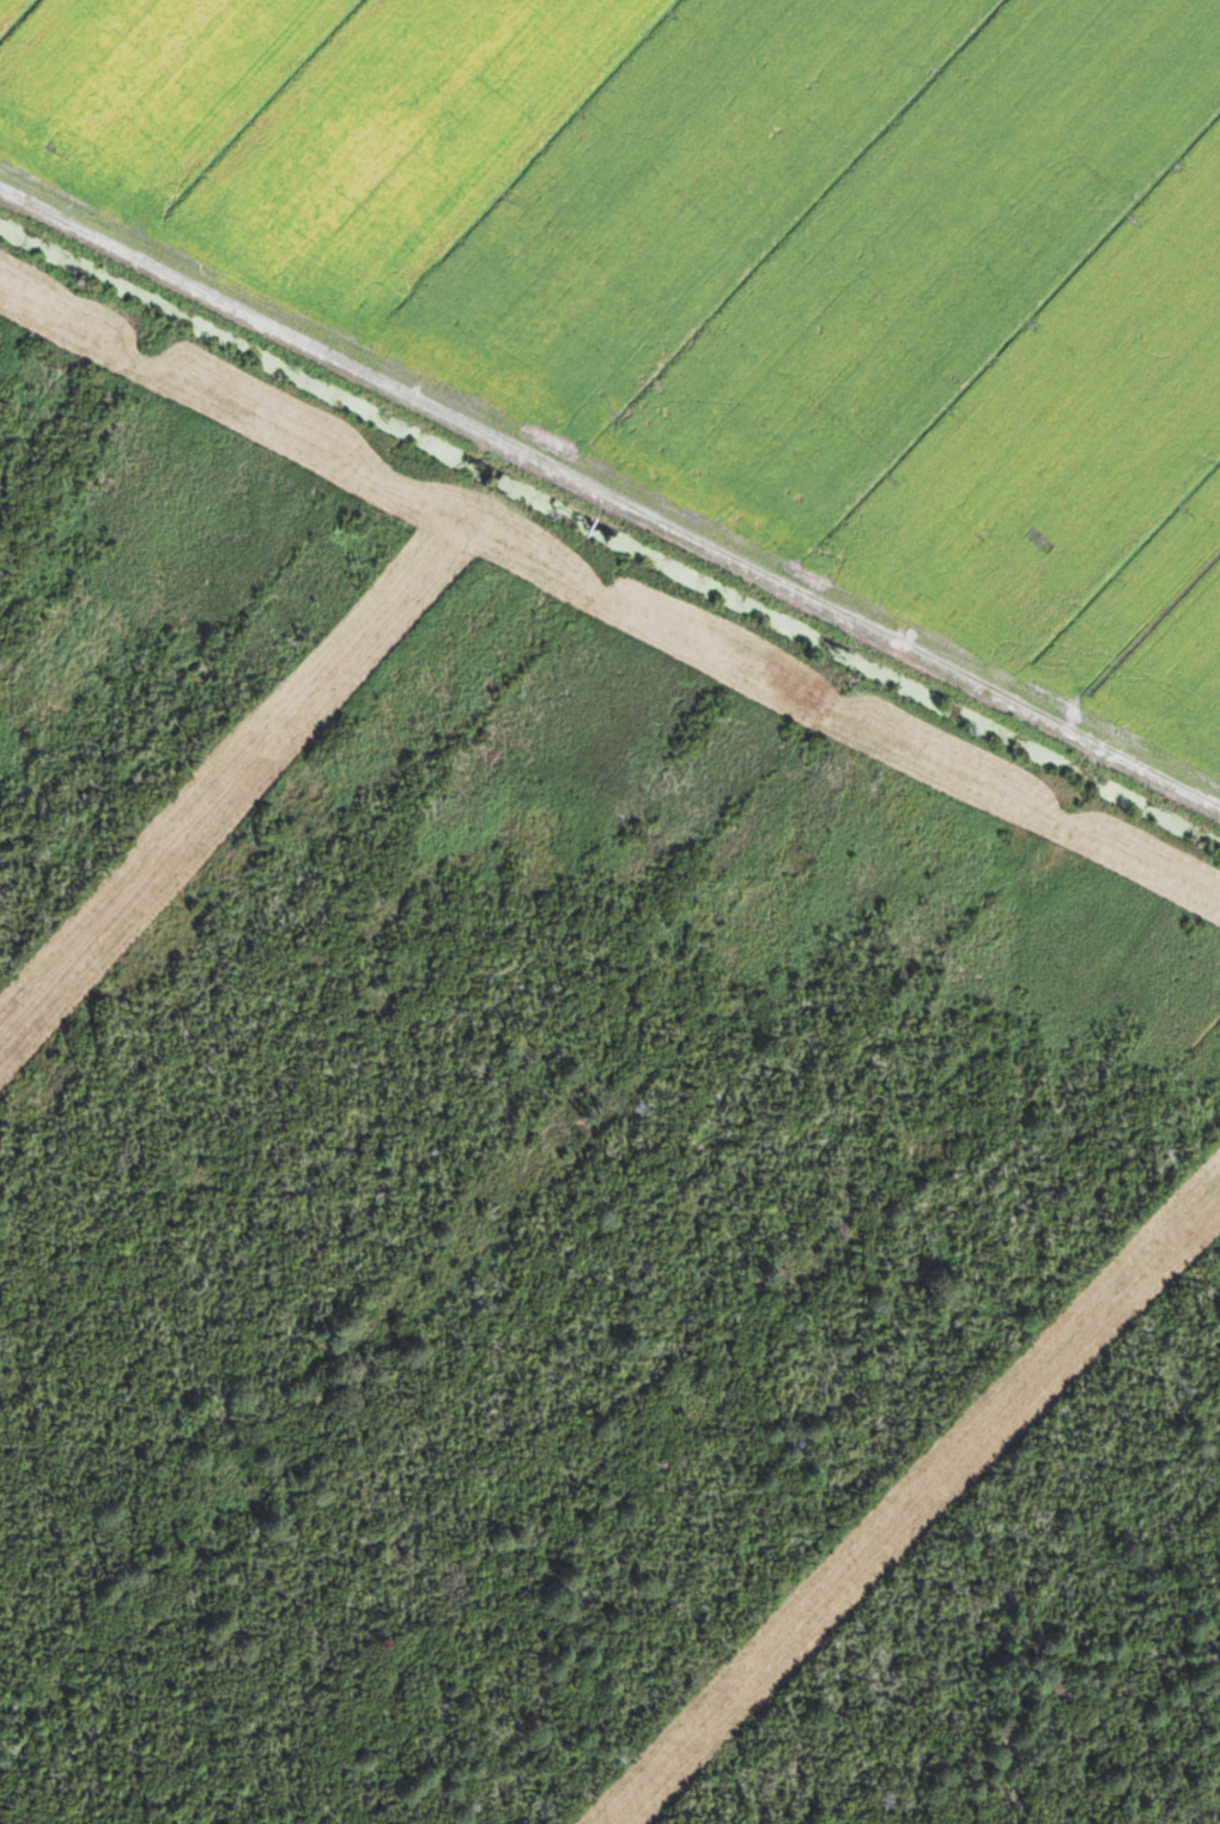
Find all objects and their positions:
crop: (739, 275)
road: (609, 505)

